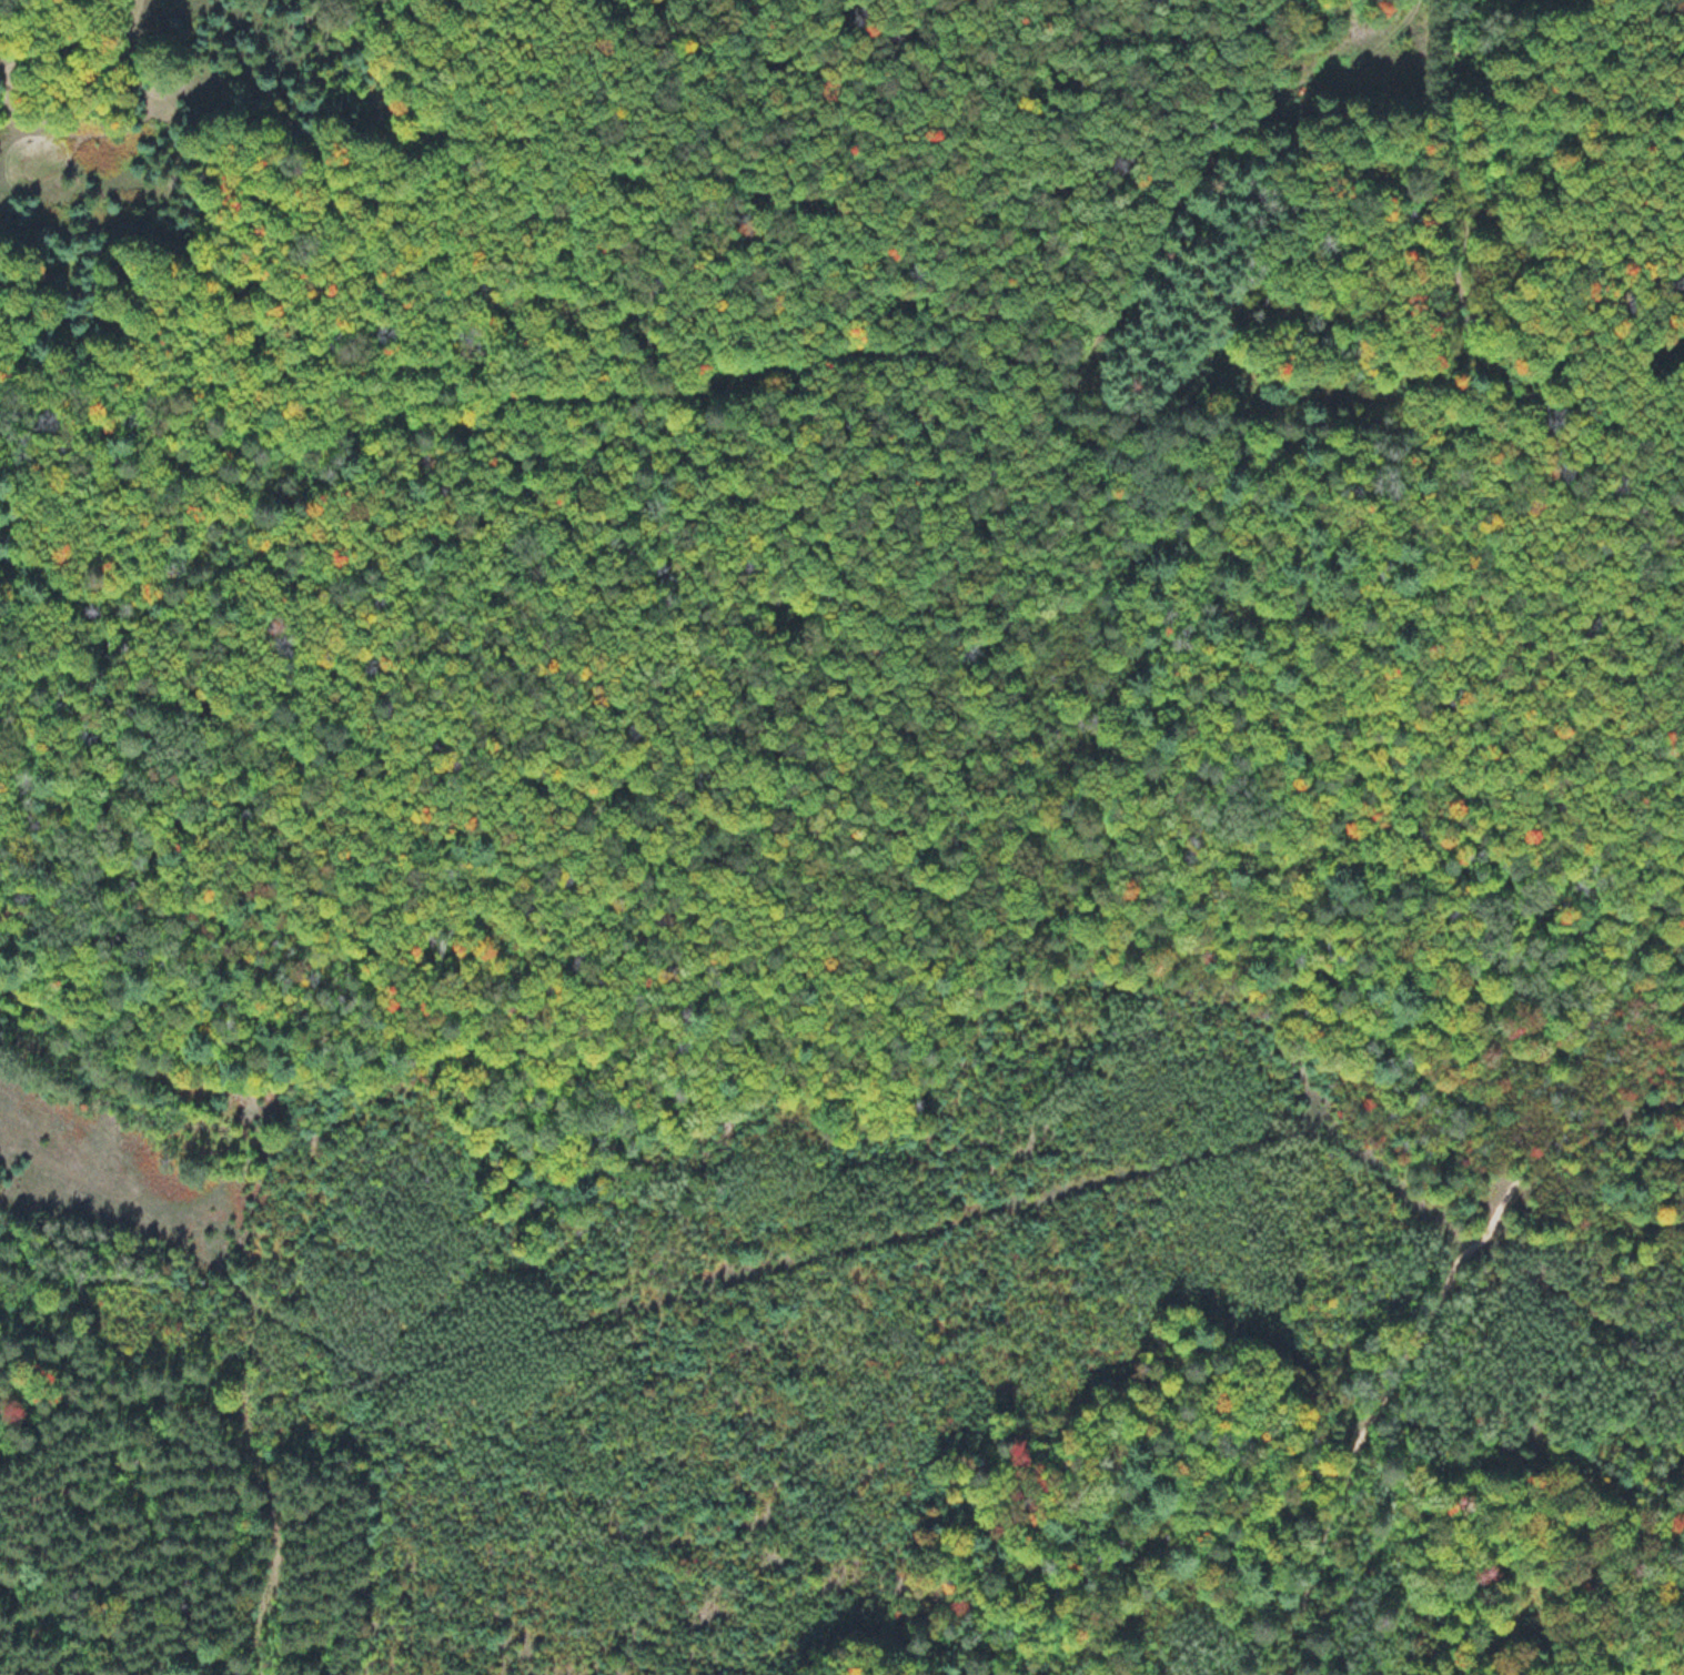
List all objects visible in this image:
road: (1429, 1328)

